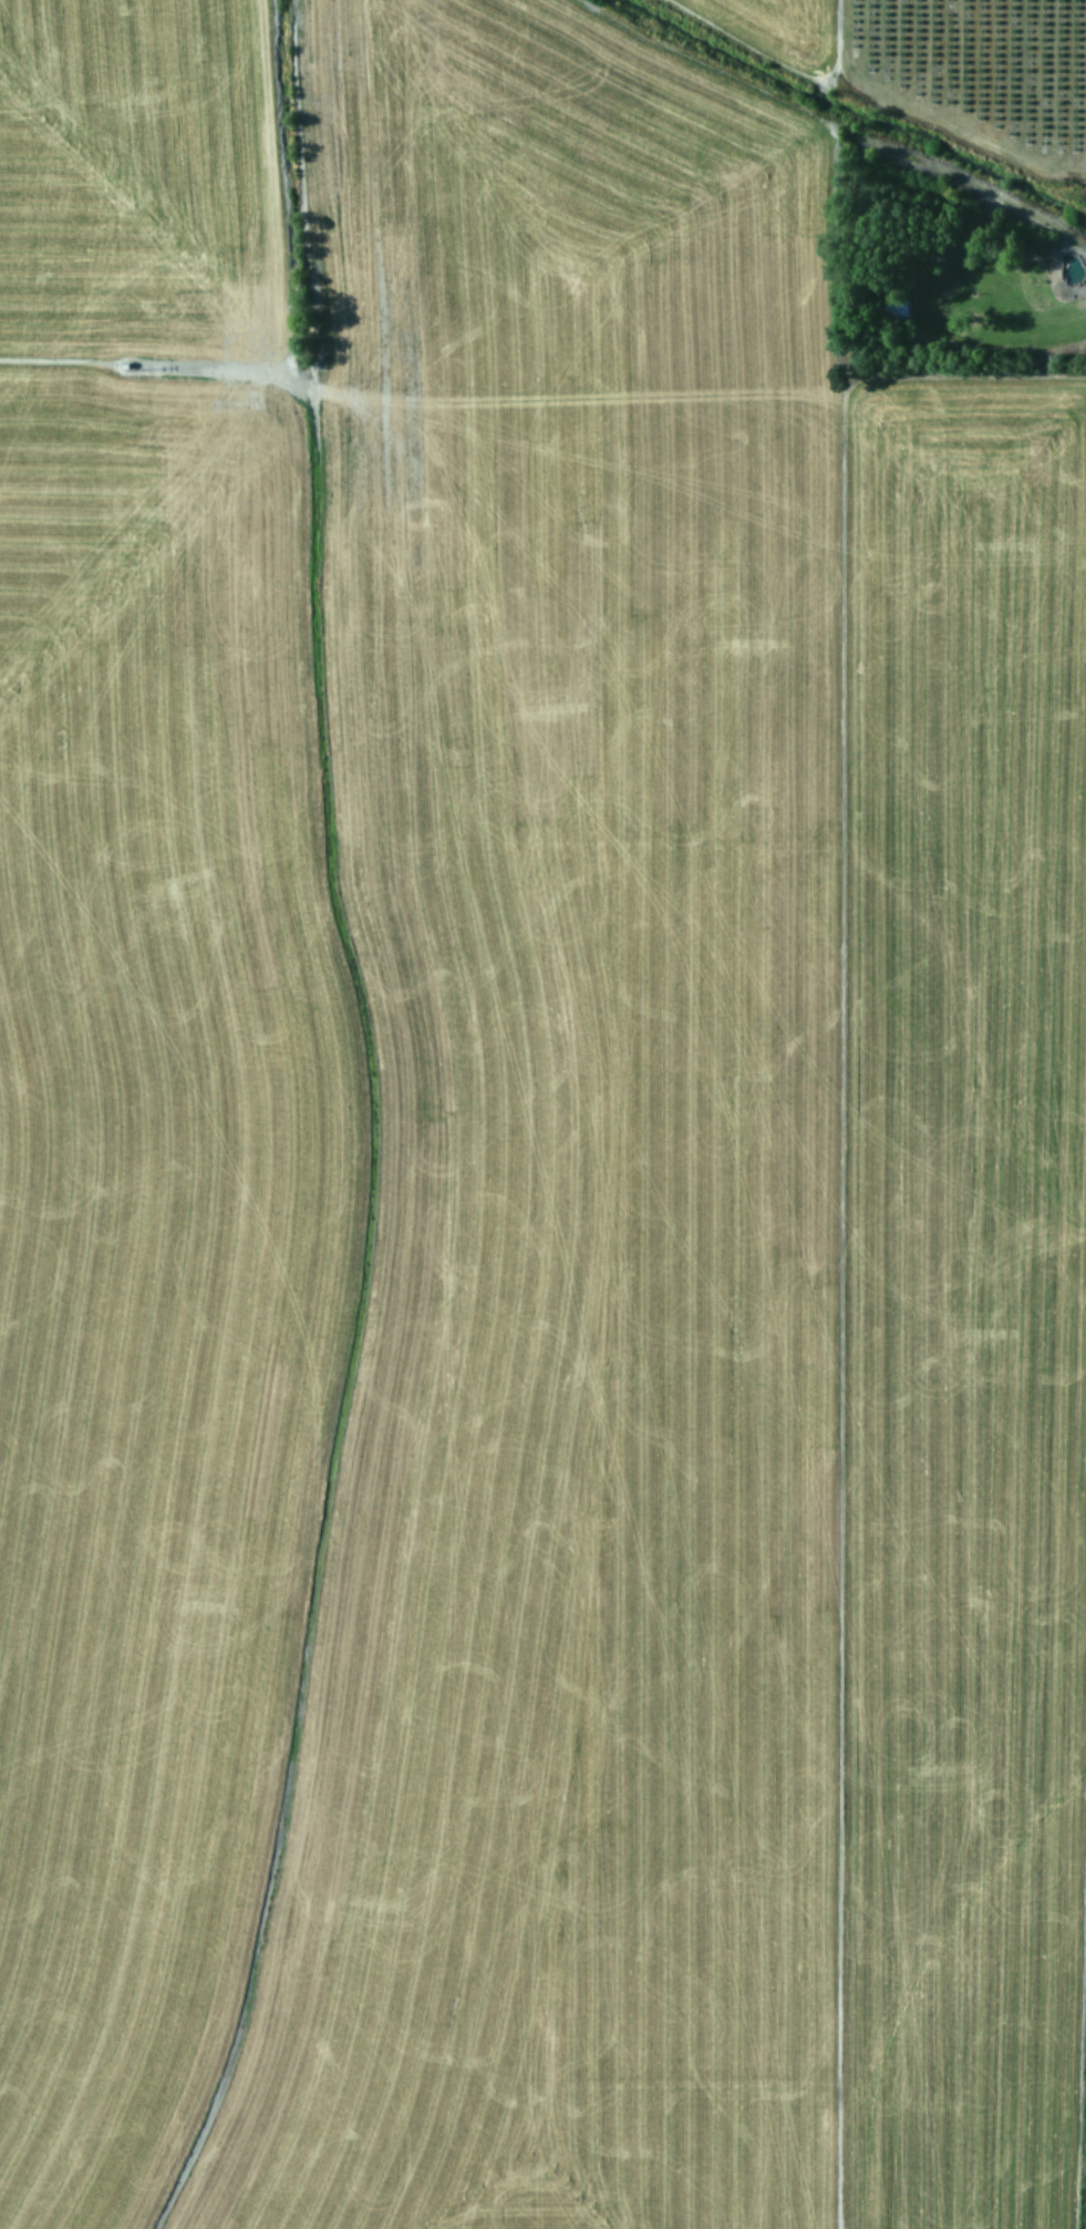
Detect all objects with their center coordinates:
crop: (540, 1110)

